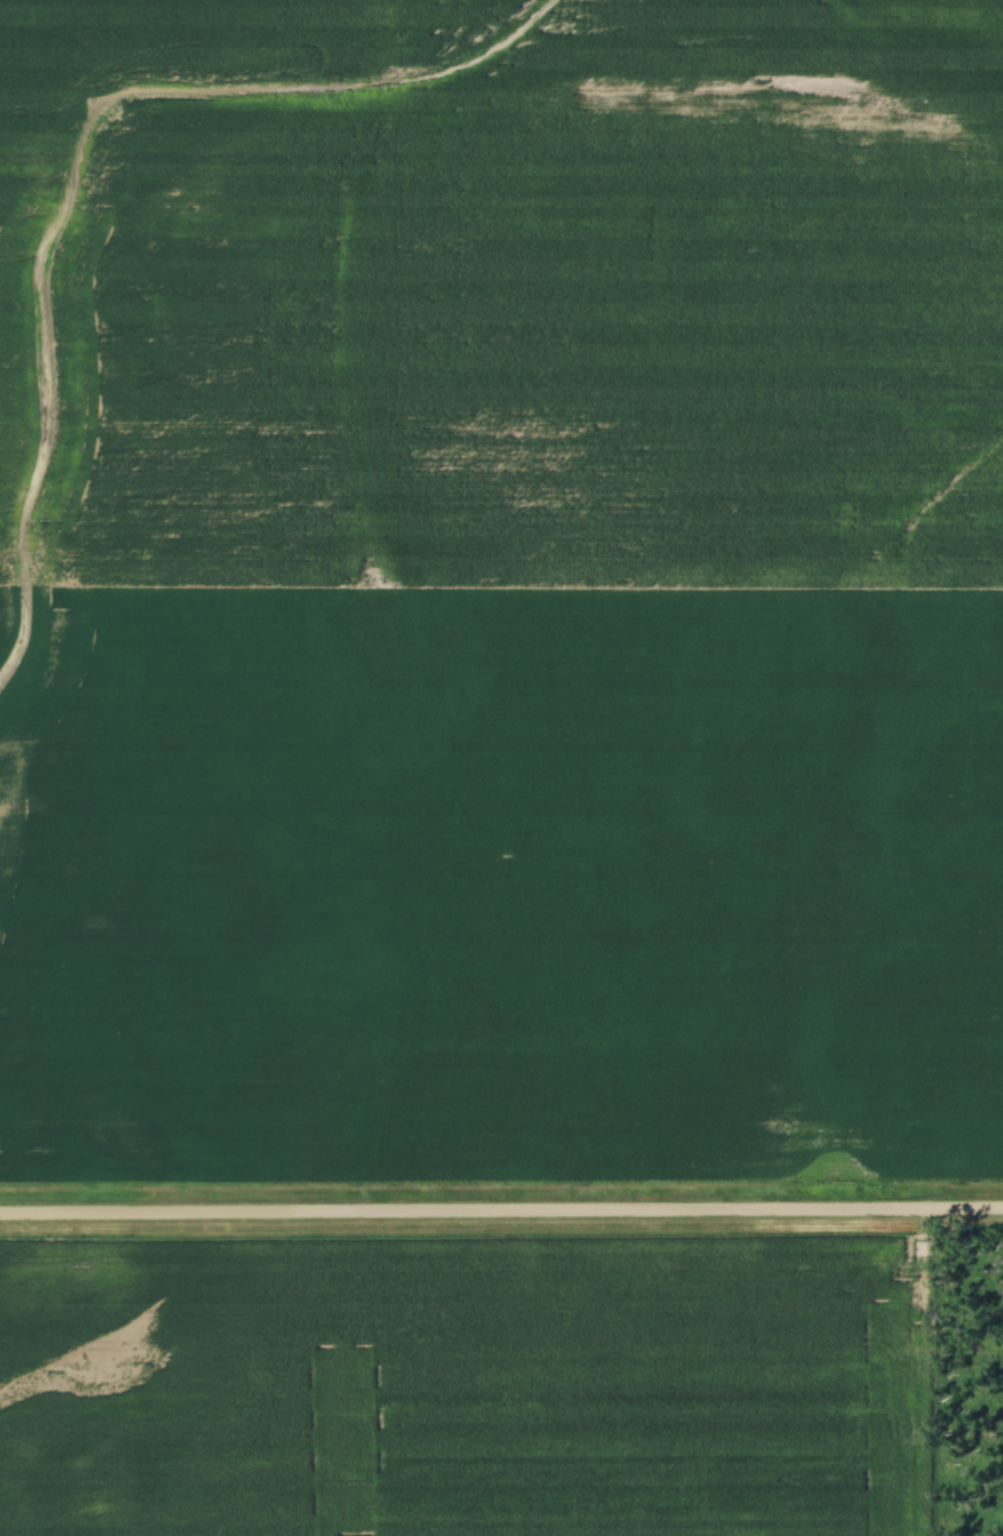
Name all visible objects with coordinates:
road: (501, 1209)

